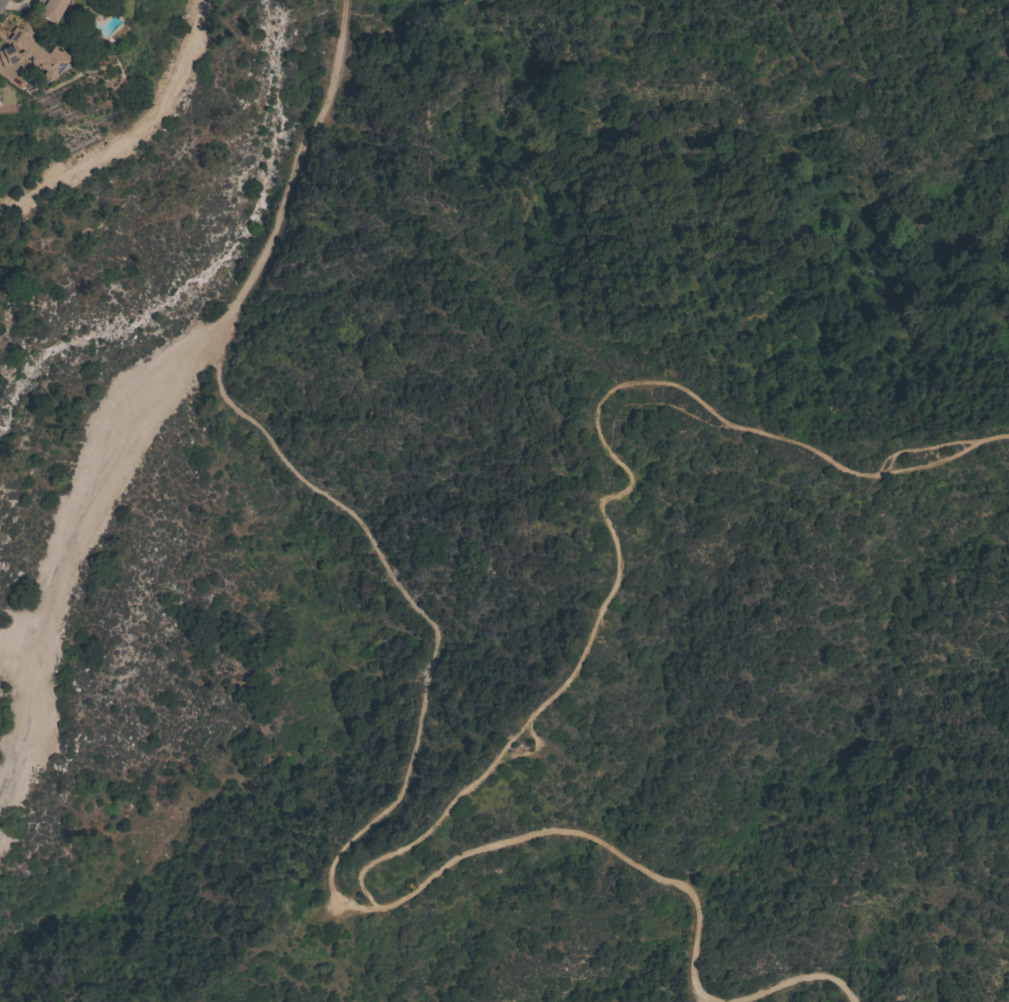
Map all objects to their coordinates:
building: (52, 10)
building: (32, 53)
road: (130, 132)
road: (299, 162)
road: (72, 533)
road: (605, 594)
road: (368, 823)
road: (808, 976)

